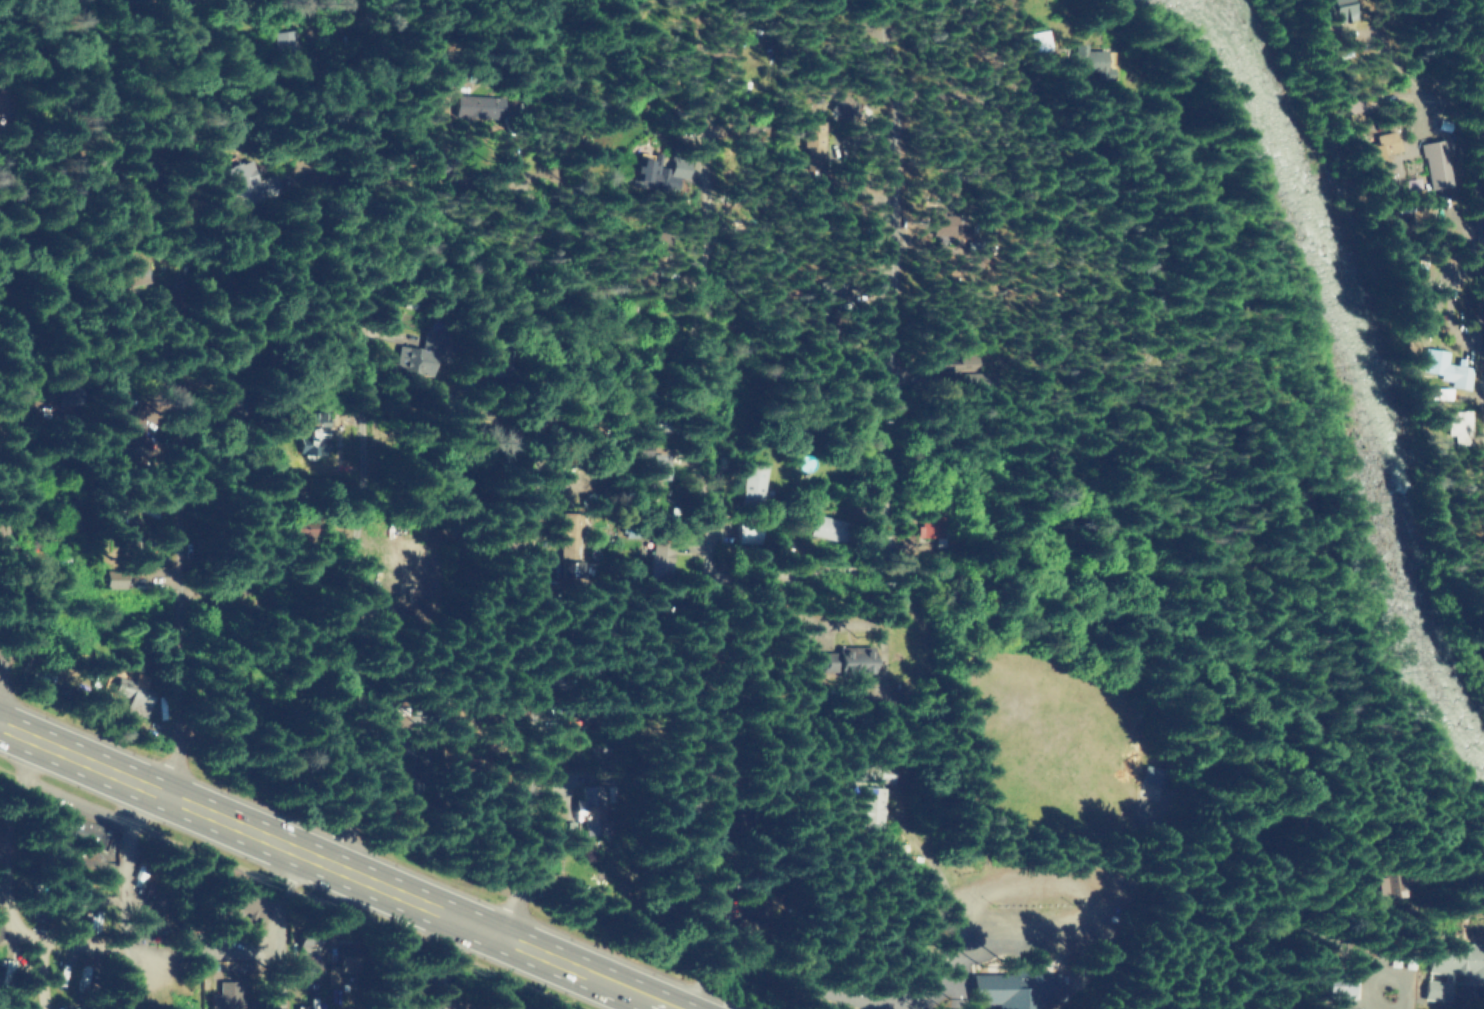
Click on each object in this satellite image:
building: (1339, 10)
road: (608, 19)
building: (1036, 42)
building: (282, 56)
road: (892, 56)
building: (1088, 63)
building: (462, 67)
road: (202, 83)
road: (373, 90)
road: (563, 90)
road: (1436, 97)
building: (477, 104)
building: (845, 106)
road: (1473, 123)
building: (753, 124)
building: (815, 142)
building: (1384, 144)
building: (643, 163)
building: (1442, 163)
road: (5, 170)
building: (248, 183)
road: (45, 210)
road: (996, 212)
building: (944, 224)
building: (137, 274)
building: (641, 280)
road: (154, 329)
road: (1479, 329)
road: (4, 337)
building: (423, 350)
building: (500, 364)
building: (1445, 368)
river: (1360, 380)
road: (712, 381)
building: (653, 390)
building: (67, 391)
building: (231, 397)
building: (106, 398)
road: (888, 414)
building: (130, 424)
building: (319, 432)
building: (124, 453)
building: (228, 463)
building: (654, 468)
building: (753, 481)
building: (71, 510)
building: (389, 526)
building: (927, 527)
building: (827, 528)
building: (745, 530)
building: (305, 534)
building: (131, 544)
building: (568, 545)
building: (656, 556)
building: (107, 578)
road: (529, 590)
road: (353, 599)
building: (219, 606)
road: (178, 608)
building: (843, 660)
road: (443, 667)
building: (564, 684)
building: (132, 693)
road: (1226, 700)
building: (226, 701)
building: (1151, 776)
building: (390, 788)
road: (697, 789)
building: (741, 795)
building: (589, 806)
building: (873, 808)
road: (1175, 812)
building: (742, 818)
building: (77, 831)
road: (24, 834)
road: (338, 866)
building: (1380, 887)
building: (235, 903)
building: (751, 917)
road: (276, 927)
road: (57, 943)
building: (309, 943)
road: (442, 961)
building: (306, 962)
building: (334, 964)
building: (5, 965)
building: (1448, 965)
road: (40, 972)
building: (1335, 986)
building: (1011, 987)
road: (939, 994)
building: (226, 997)
road: (22, 999)
building: (4, 1004)
road: (819, 1004)
building: (406, 1005)

